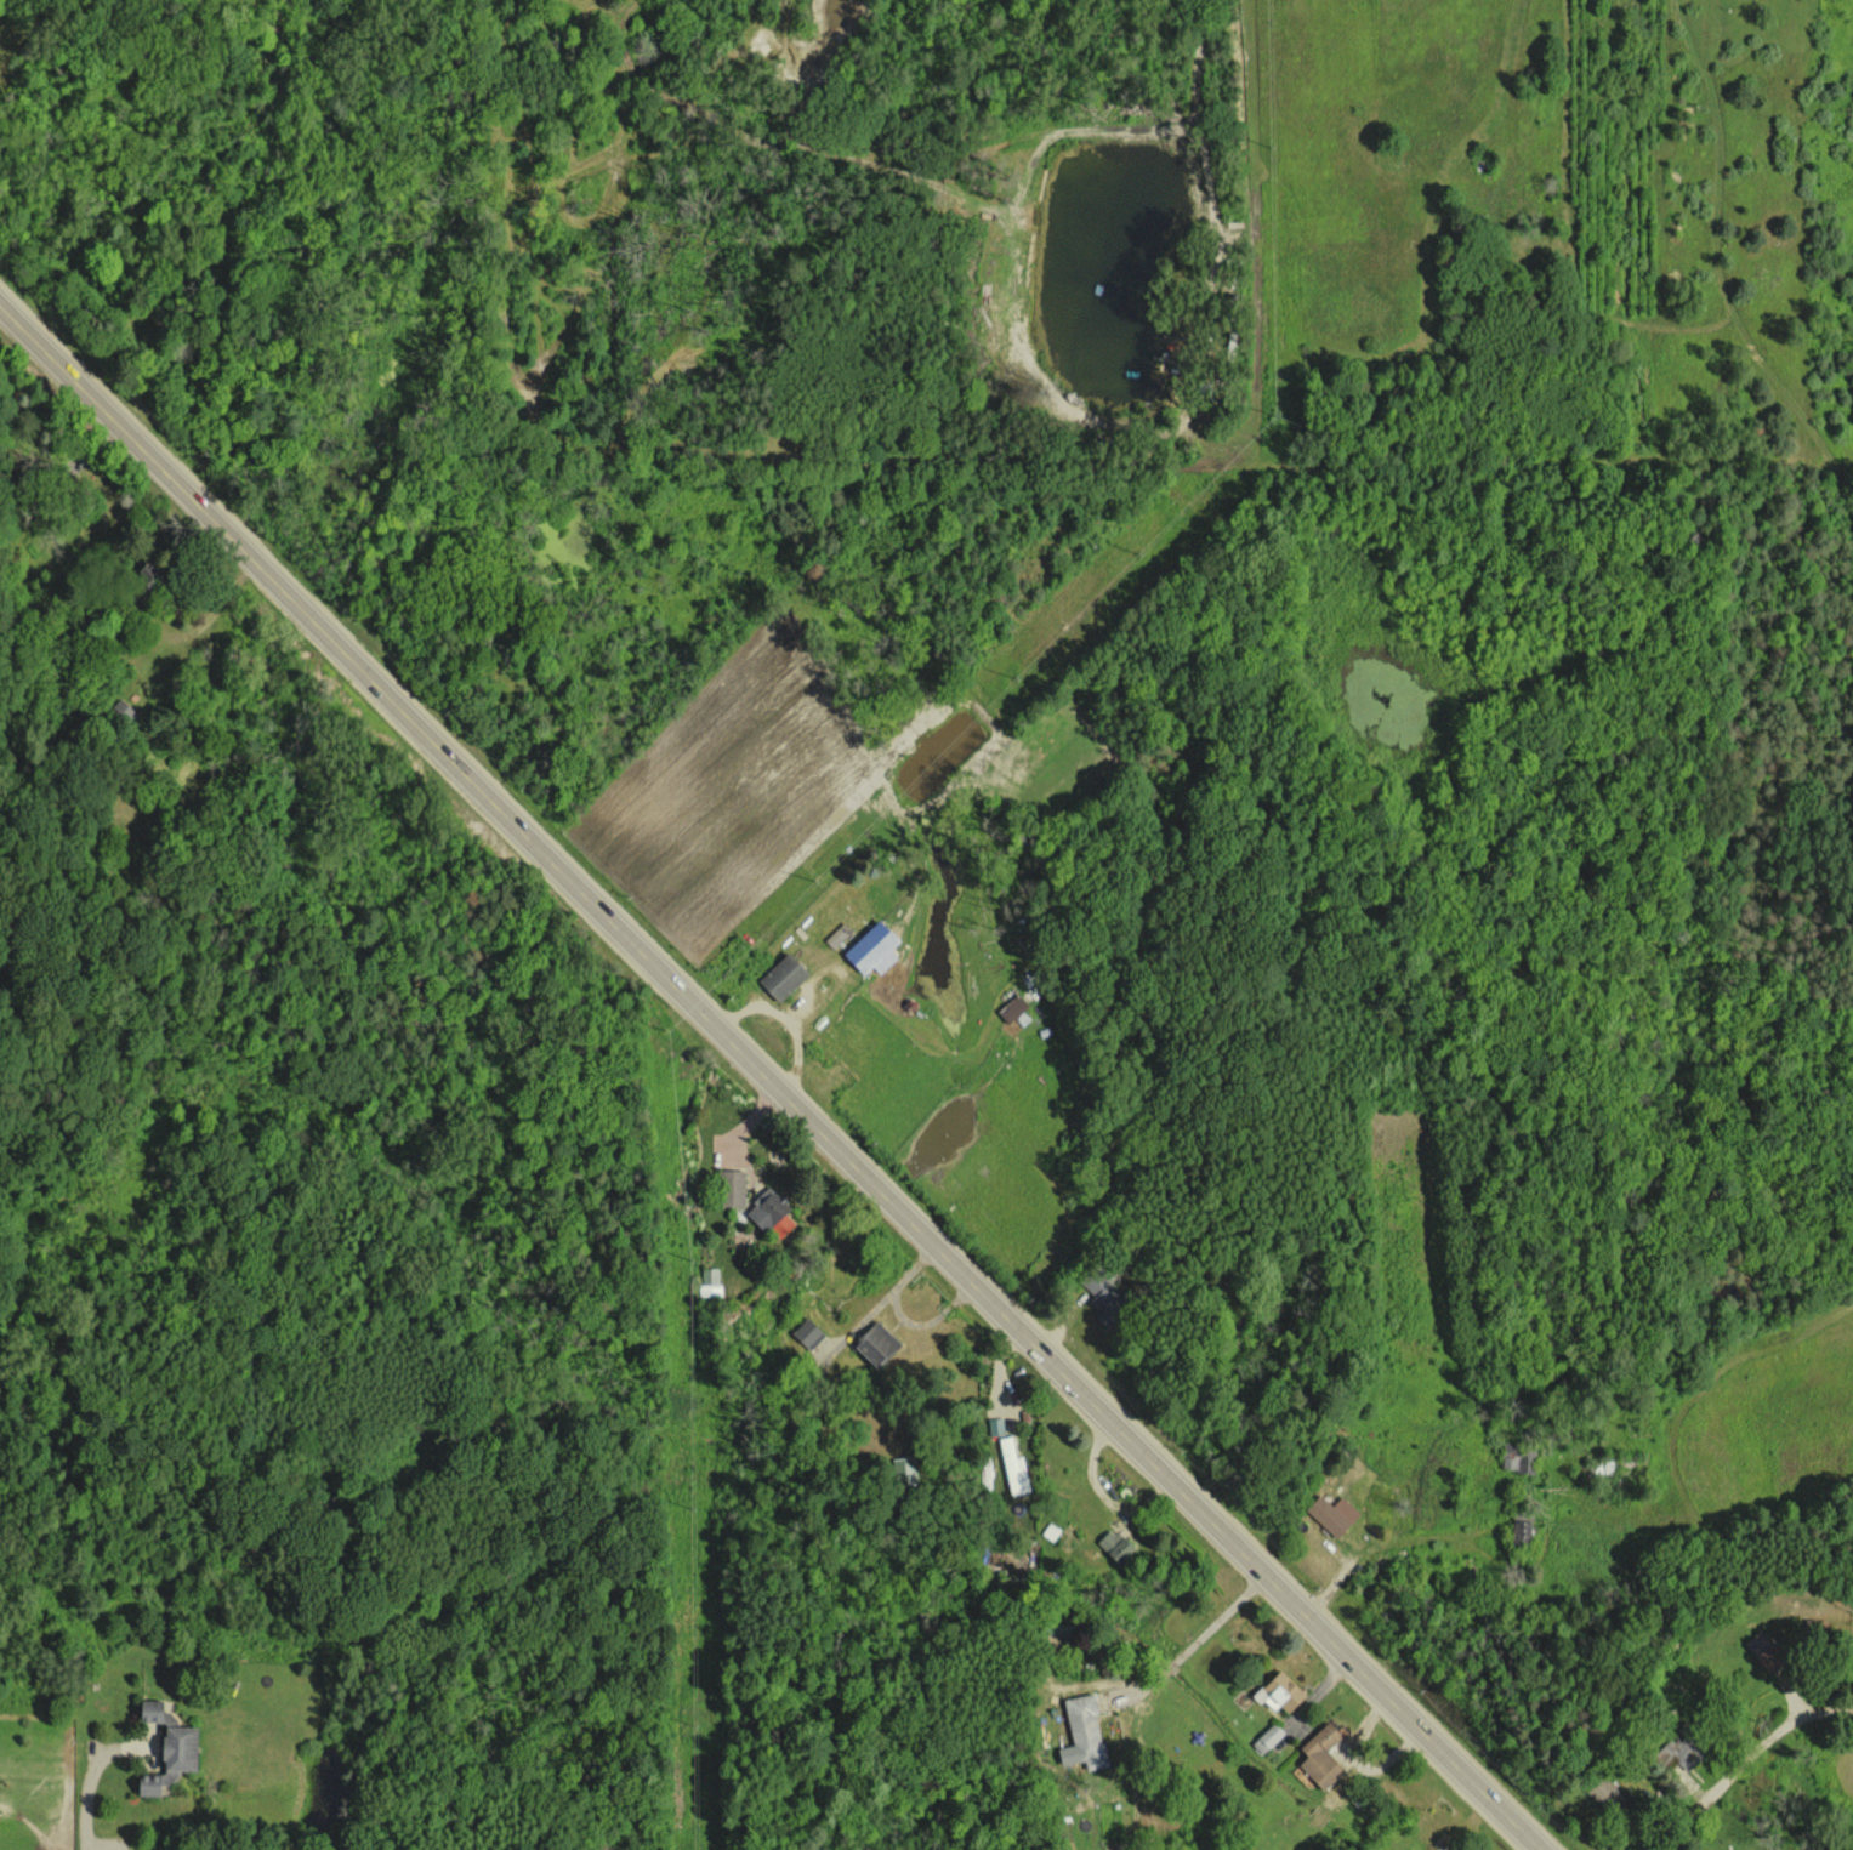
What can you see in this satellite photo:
building: (836, 935)
building: (870, 950)
building: (780, 978)
building: (1011, 1009)
road: (788, 1023)
road: (773, 1072)
building: (729, 1189)
building: (768, 1213)
building: (709, 1281)
building: (1102, 1285)
building: (806, 1333)
building: (875, 1343)
building: (995, 1425)
building: (1013, 1467)
building: (904, 1470)
building: (1331, 1513)
building: (1113, 1544)
road: (1200, 1635)
building: (149, 1709)
building: (1081, 1732)
building: (1267, 1737)
building: (1673, 1752)
building: (1320, 1755)
road: (1744, 1757)
building: (170, 1759)
building: (1599, 1788)
road: (87, 1810)

